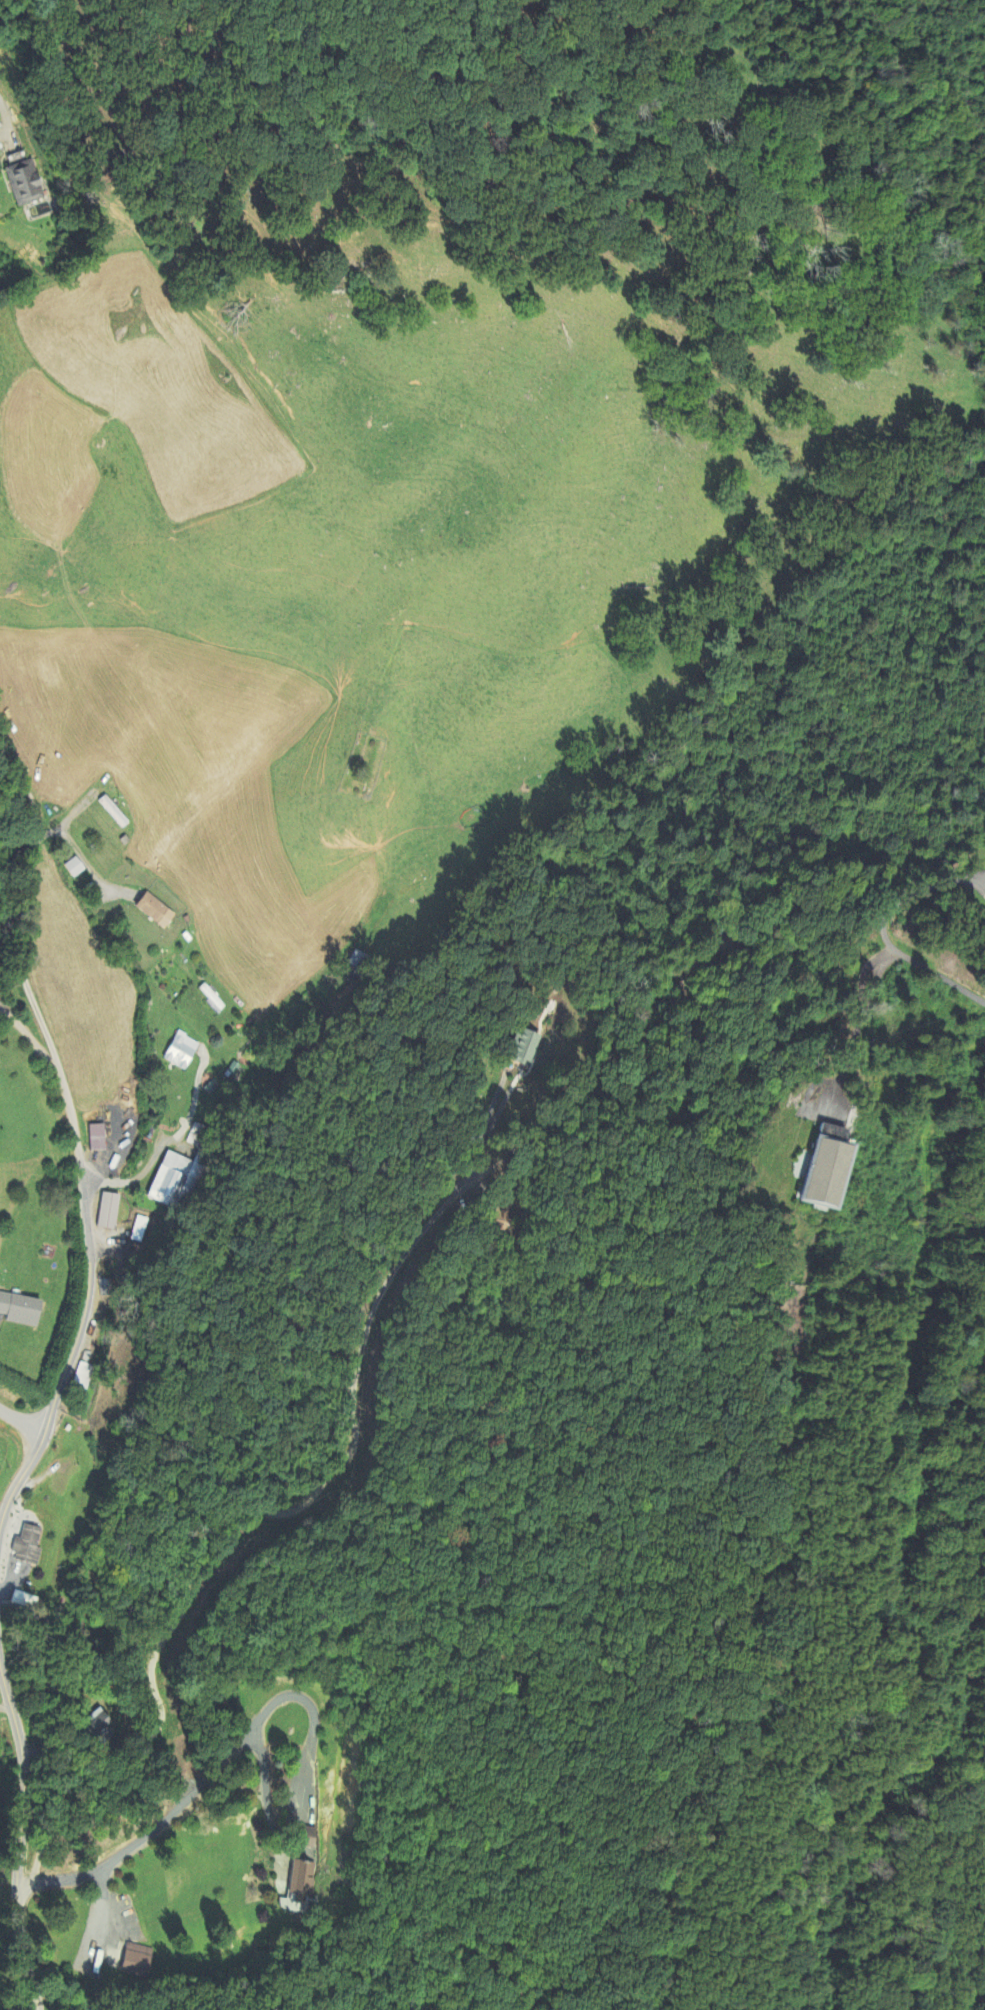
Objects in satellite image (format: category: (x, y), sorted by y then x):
road: (4, 114)
building: (23, 181)
park: (360, 764)
building: (76, 867)
building: (157, 911)
road: (936, 974)
building: (521, 1047)
building: (179, 1051)
building: (232, 1071)
building: (96, 1138)
road: (78, 1140)
building: (820, 1167)
building: (169, 1178)
building: (104, 1211)
building: (17, 1309)
building: (81, 1376)
road: (353, 1422)
road: (22, 1424)
building: (25, 1546)
building: (22, 1601)
road: (5, 1705)
road: (189, 1799)
building: (305, 1837)
road: (19, 1842)
building: (302, 1883)
building: (134, 1960)

